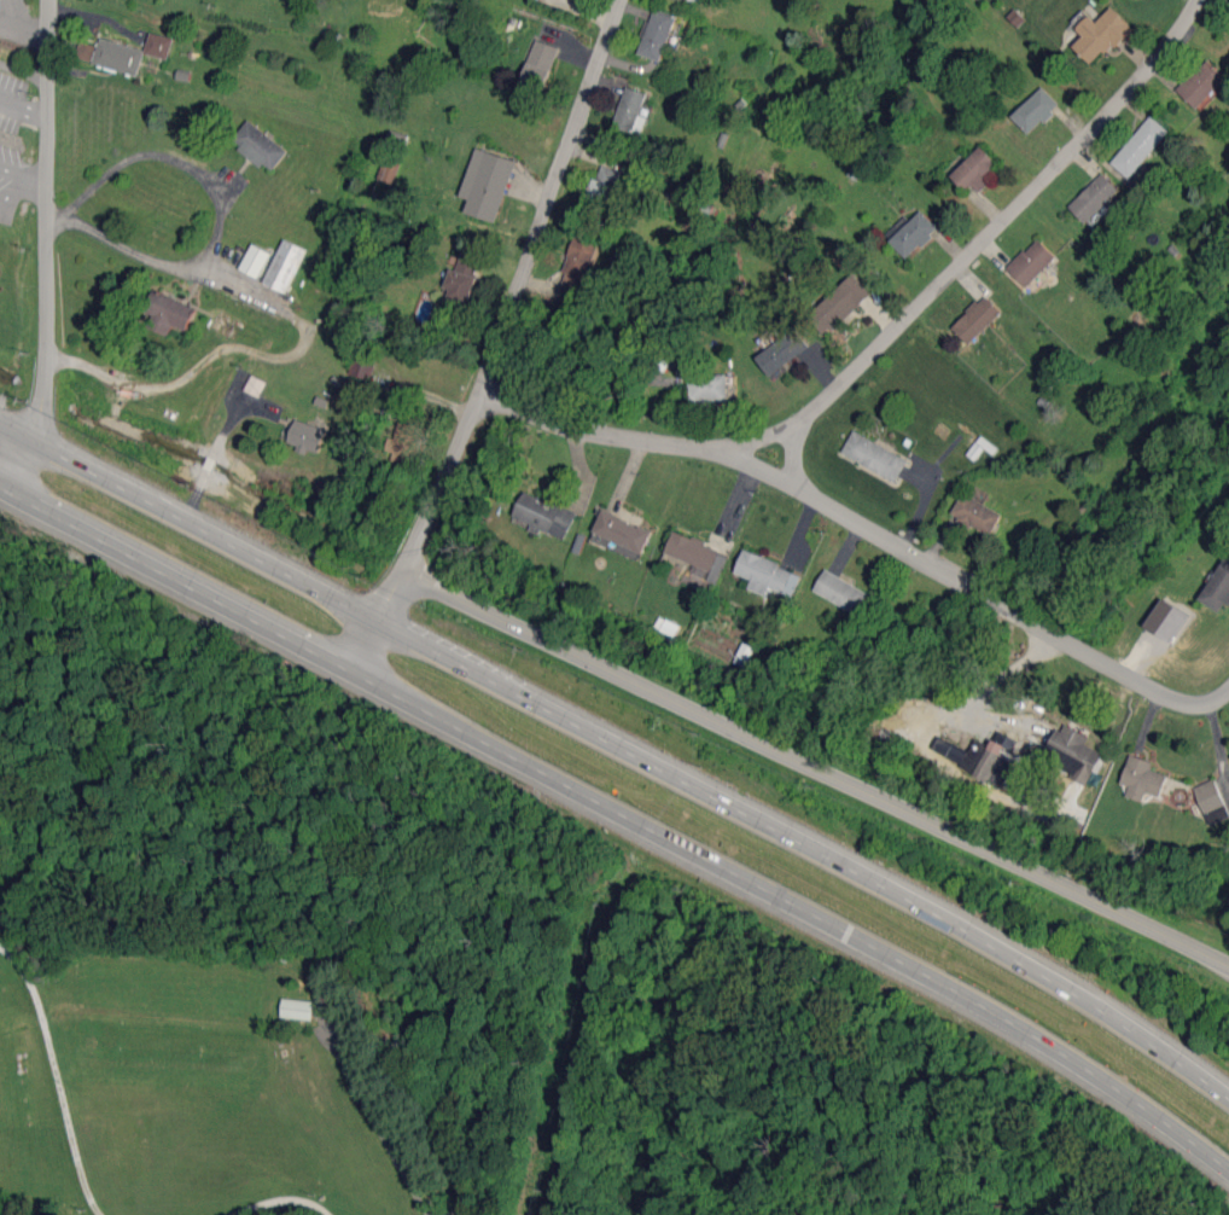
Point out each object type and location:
road: (23, 23)
building: (657, 34)
building: (1100, 35)
building: (158, 45)
building: (111, 54)
building: (540, 64)
road: (23, 71)
building: (1201, 83)
road: (22, 104)
building: (629, 109)
building: (1035, 110)
building: (260, 145)
building: (1140, 146)
building: (388, 169)
building: (975, 169)
building: (487, 184)
building: (605, 184)
road: (14, 185)
road: (30, 187)
building: (1094, 197)
road: (217, 216)
building: (910, 233)
road: (45, 250)
building: (255, 260)
building: (1031, 262)
building: (284, 266)
building: (578, 266)
building: (462, 278)
road: (516, 289)
building: (839, 304)
building: (168, 313)
building: (977, 319)
road: (887, 336)
road: (233, 348)
building: (782, 350)
building: (707, 386)
building: (307, 437)
building: (407, 443)
building: (874, 455)
road: (792, 457)
building: (977, 513)
building: (543, 515)
road: (188, 525)
building: (621, 534)
building: (697, 553)
building: (767, 575)
road: (176, 582)
building: (1218, 587)
road: (969, 589)
building: (840, 592)
building: (1166, 620)
road: (379, 623)
road: (994, 680)
building: (1072, 751)
building: (979, 758)
road: (815, 771)
building: (1142, 778)
building: (1211, 801)
road: (811, 844)
road: (799, 908)
building: (297, 1008)
road: (53, 1074)
road: (46, 1167)
road: (45, 1194)
road: (278, 1203)

